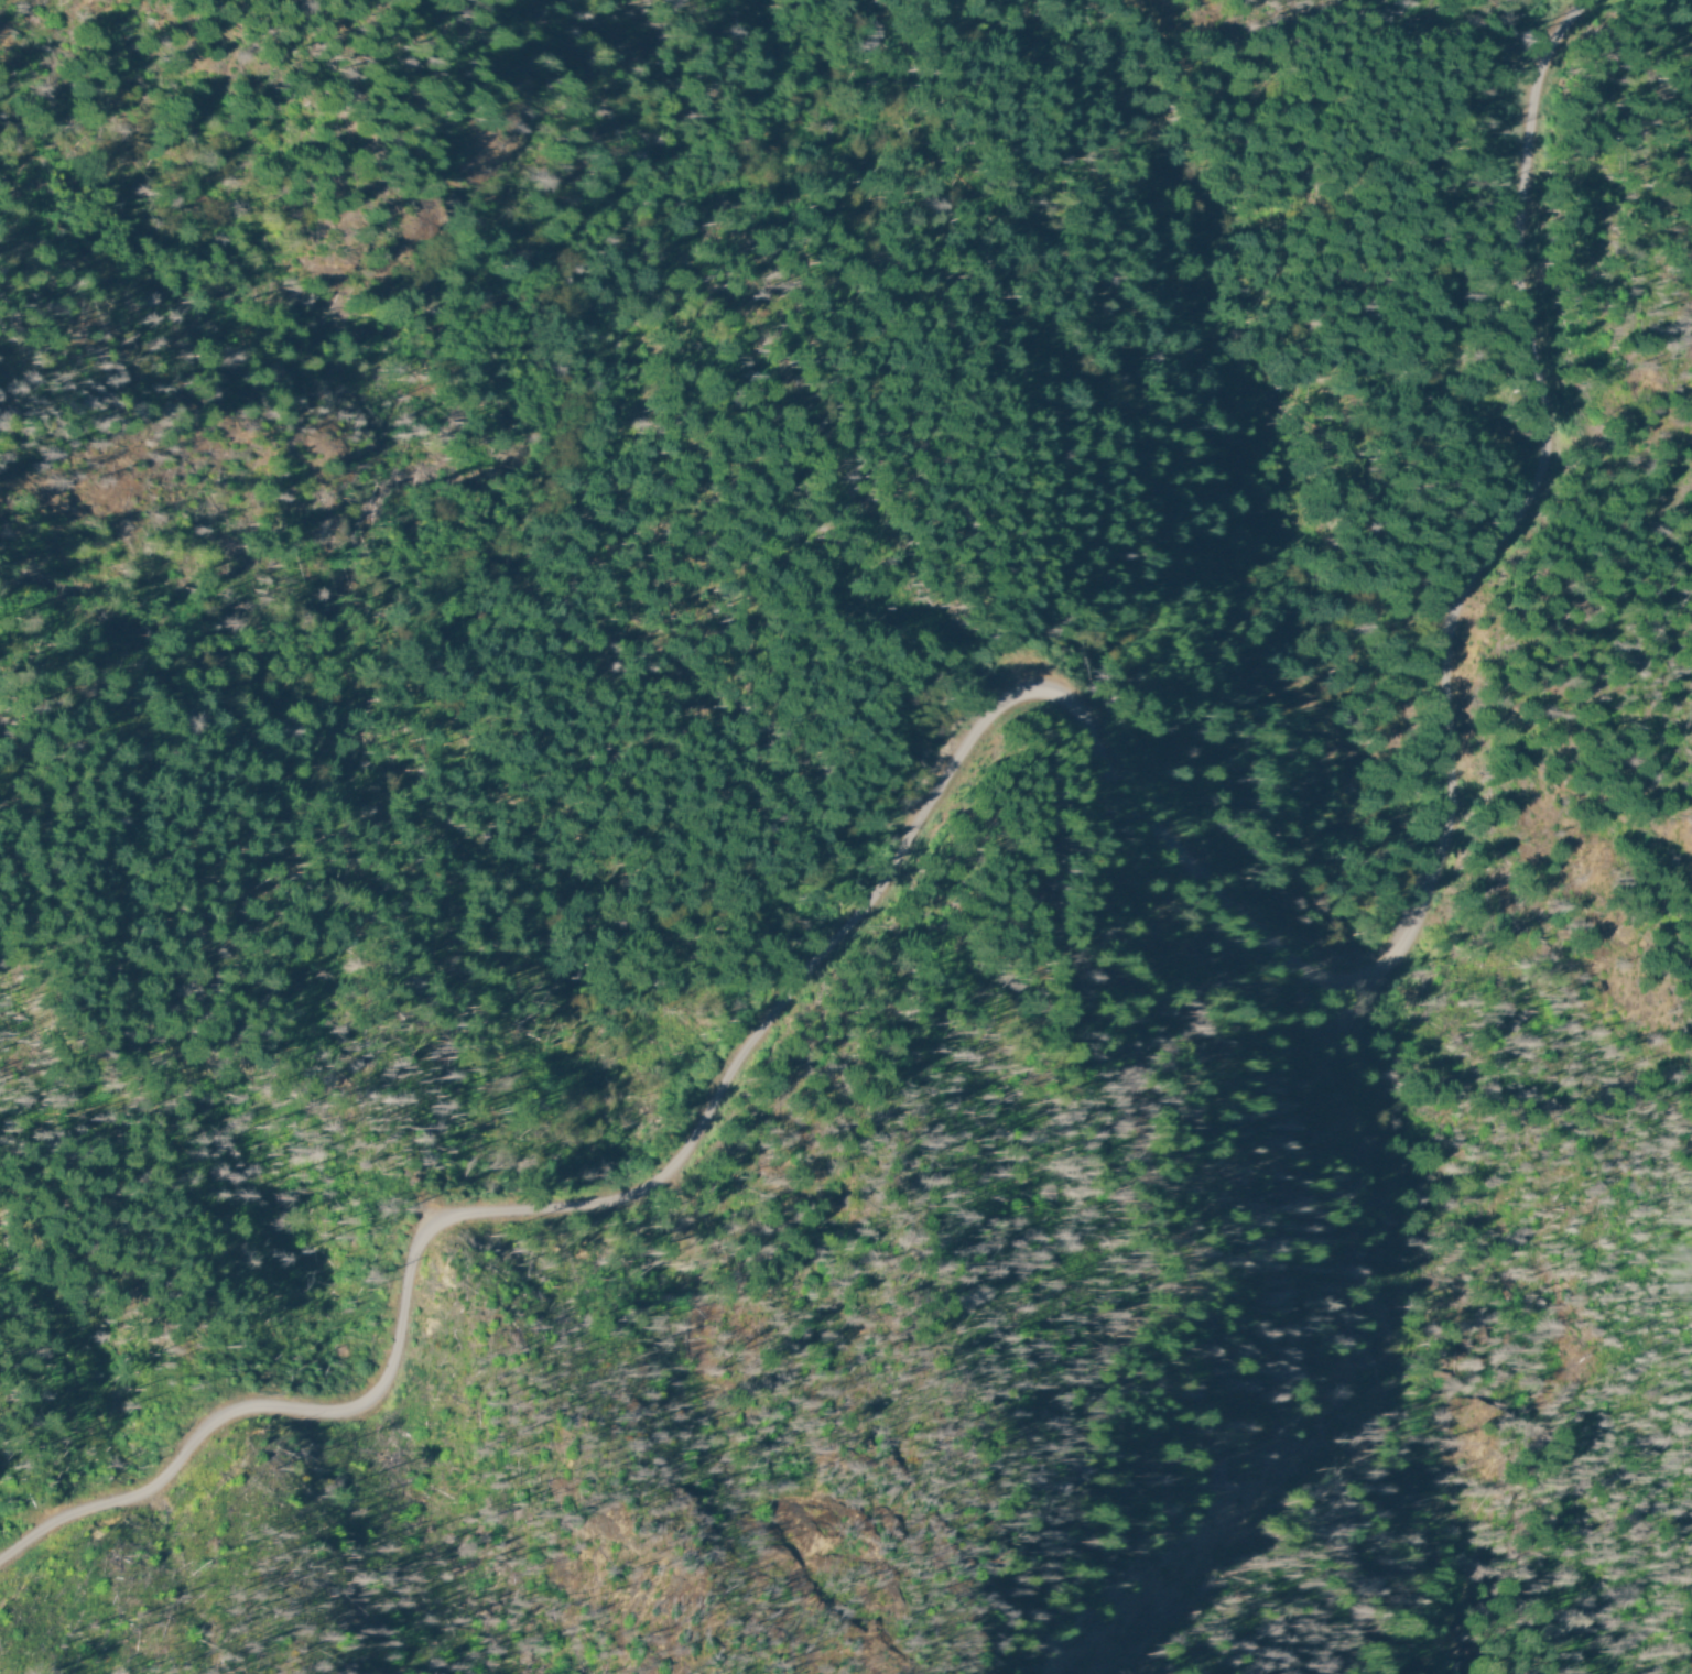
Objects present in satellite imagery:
road: (451, 367)
road: (1061, 695)

